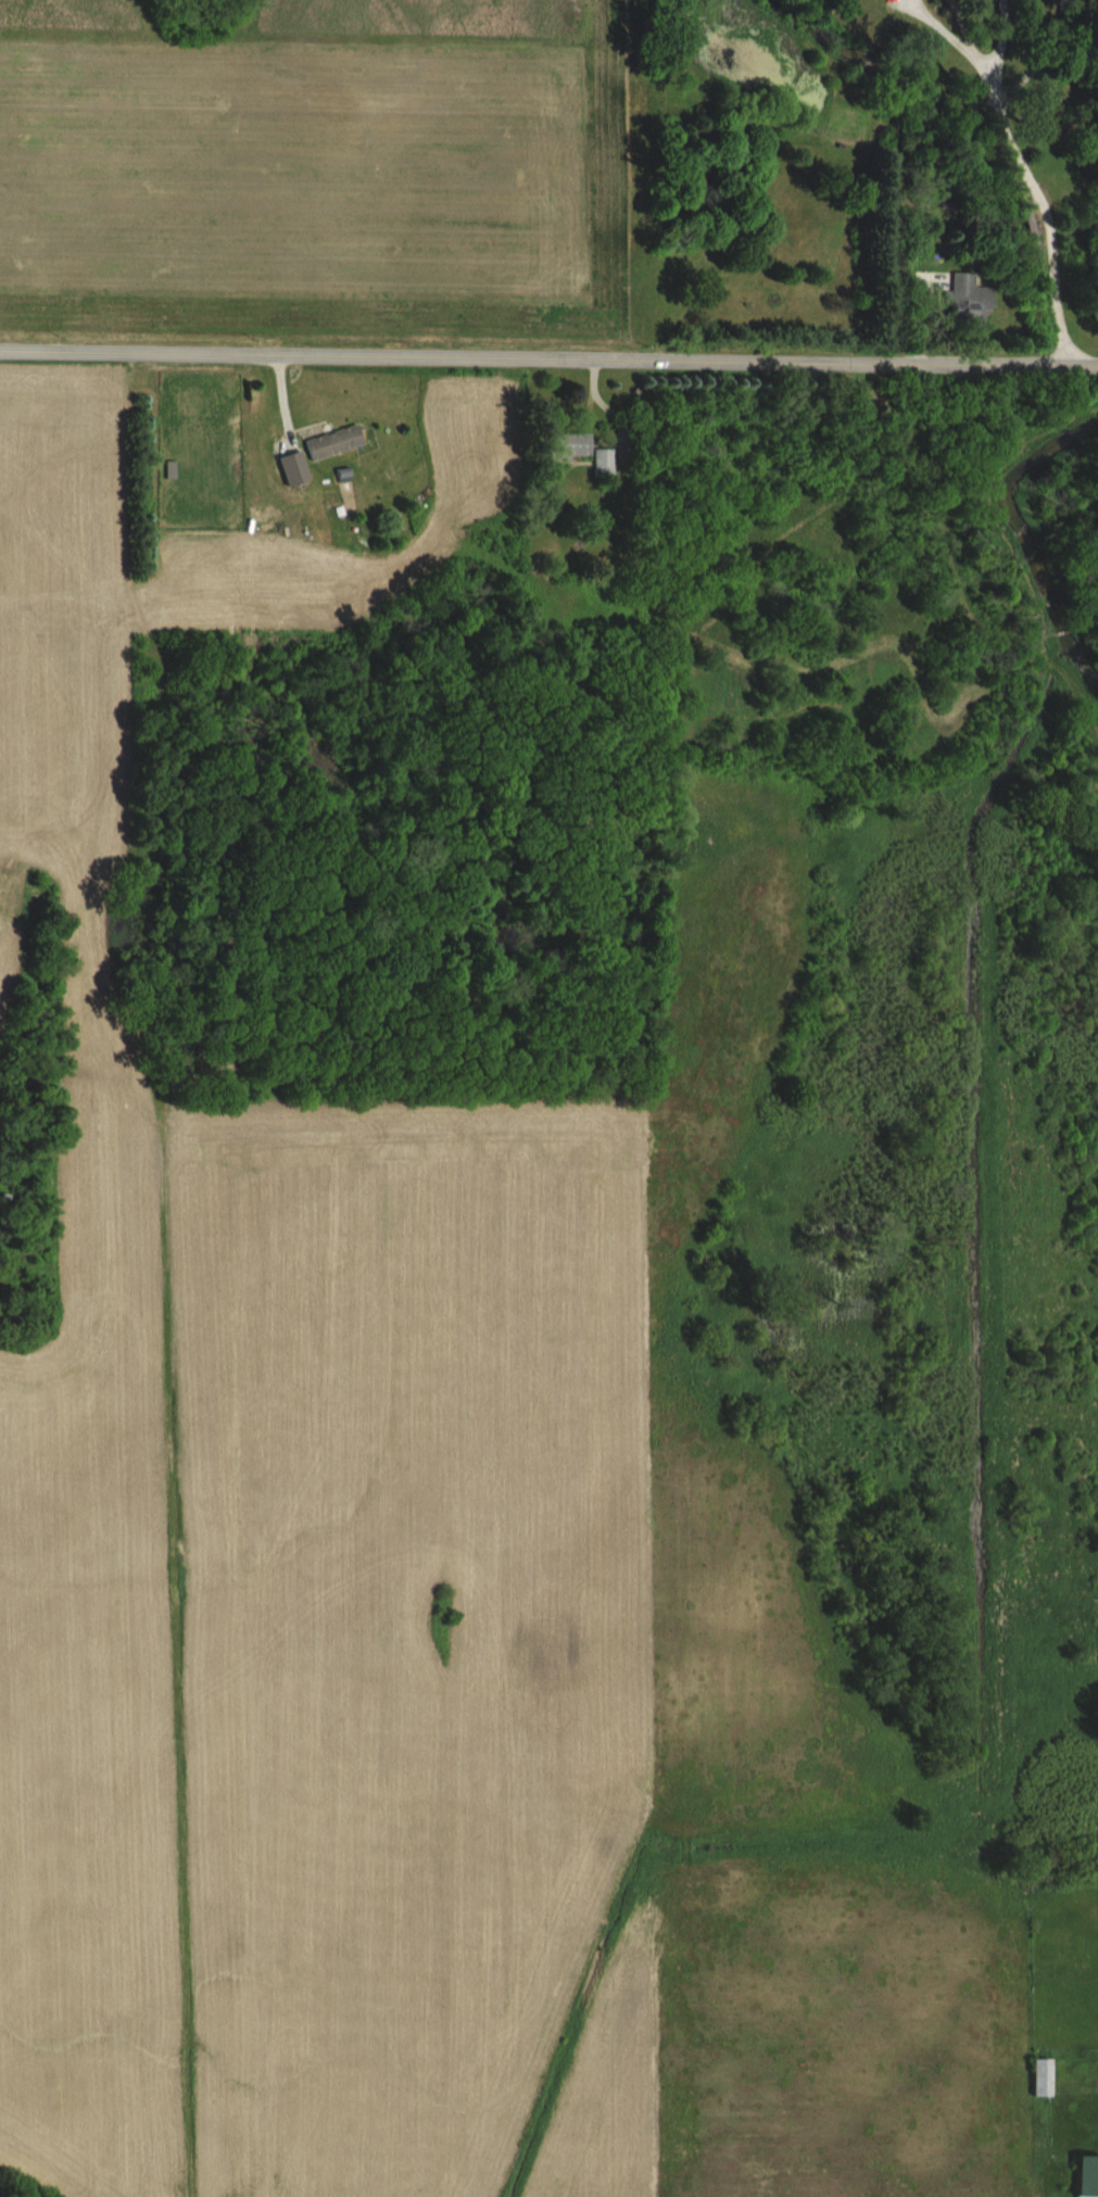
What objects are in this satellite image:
road: (936, 25)
road: (963, 36)
road: (998, 36)
road: (1039, 53)
road: (881, 175)
road: (1043, 211)
road: (910, 279)
building: (962, 300)
road: (881, 320)
road: (548, 357)
building: (329, 441)
building: (566, 446)
building: (602, 462)
building: (1037, 2076)
building: (1084, 2176)

